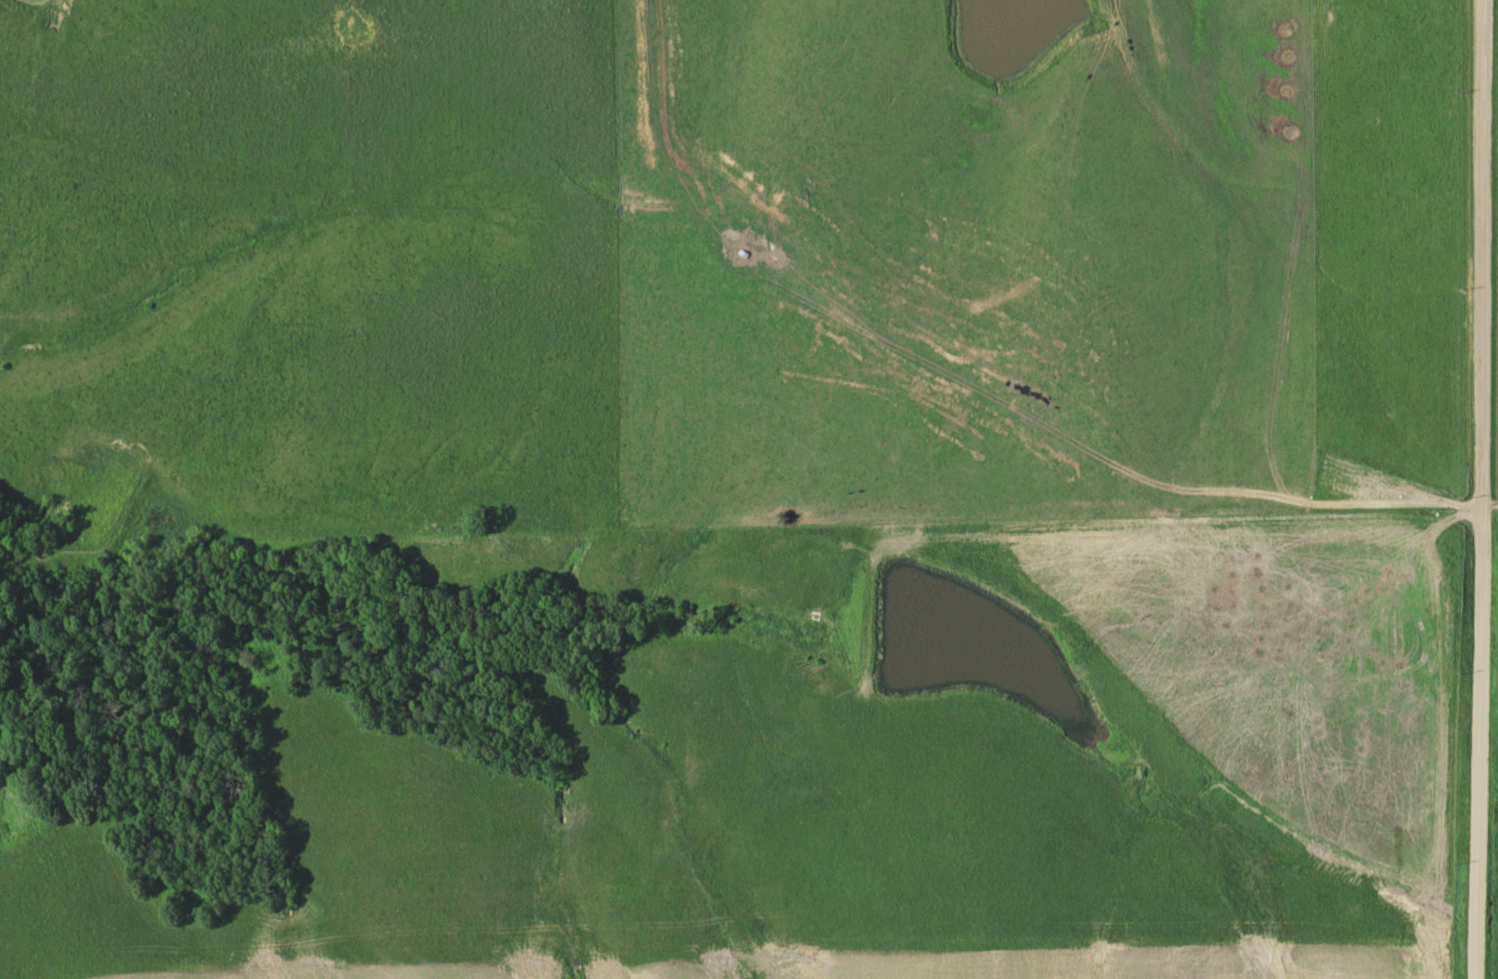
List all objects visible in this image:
road: (1484, 489)

